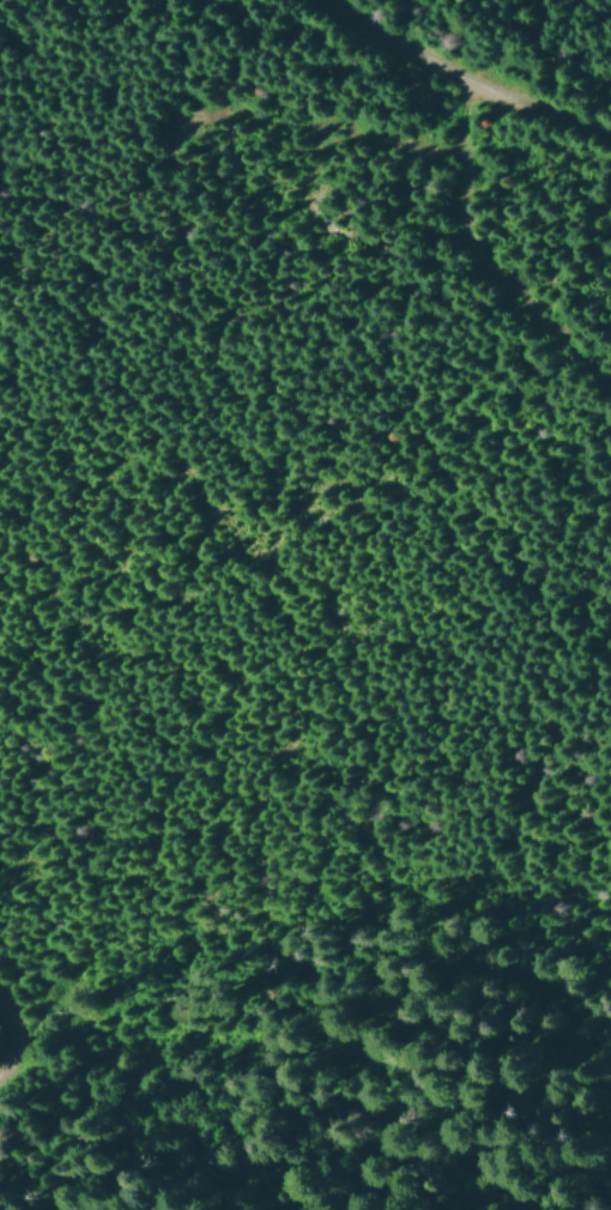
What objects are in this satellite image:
road: (460, 72)
road: (11, 1036)

